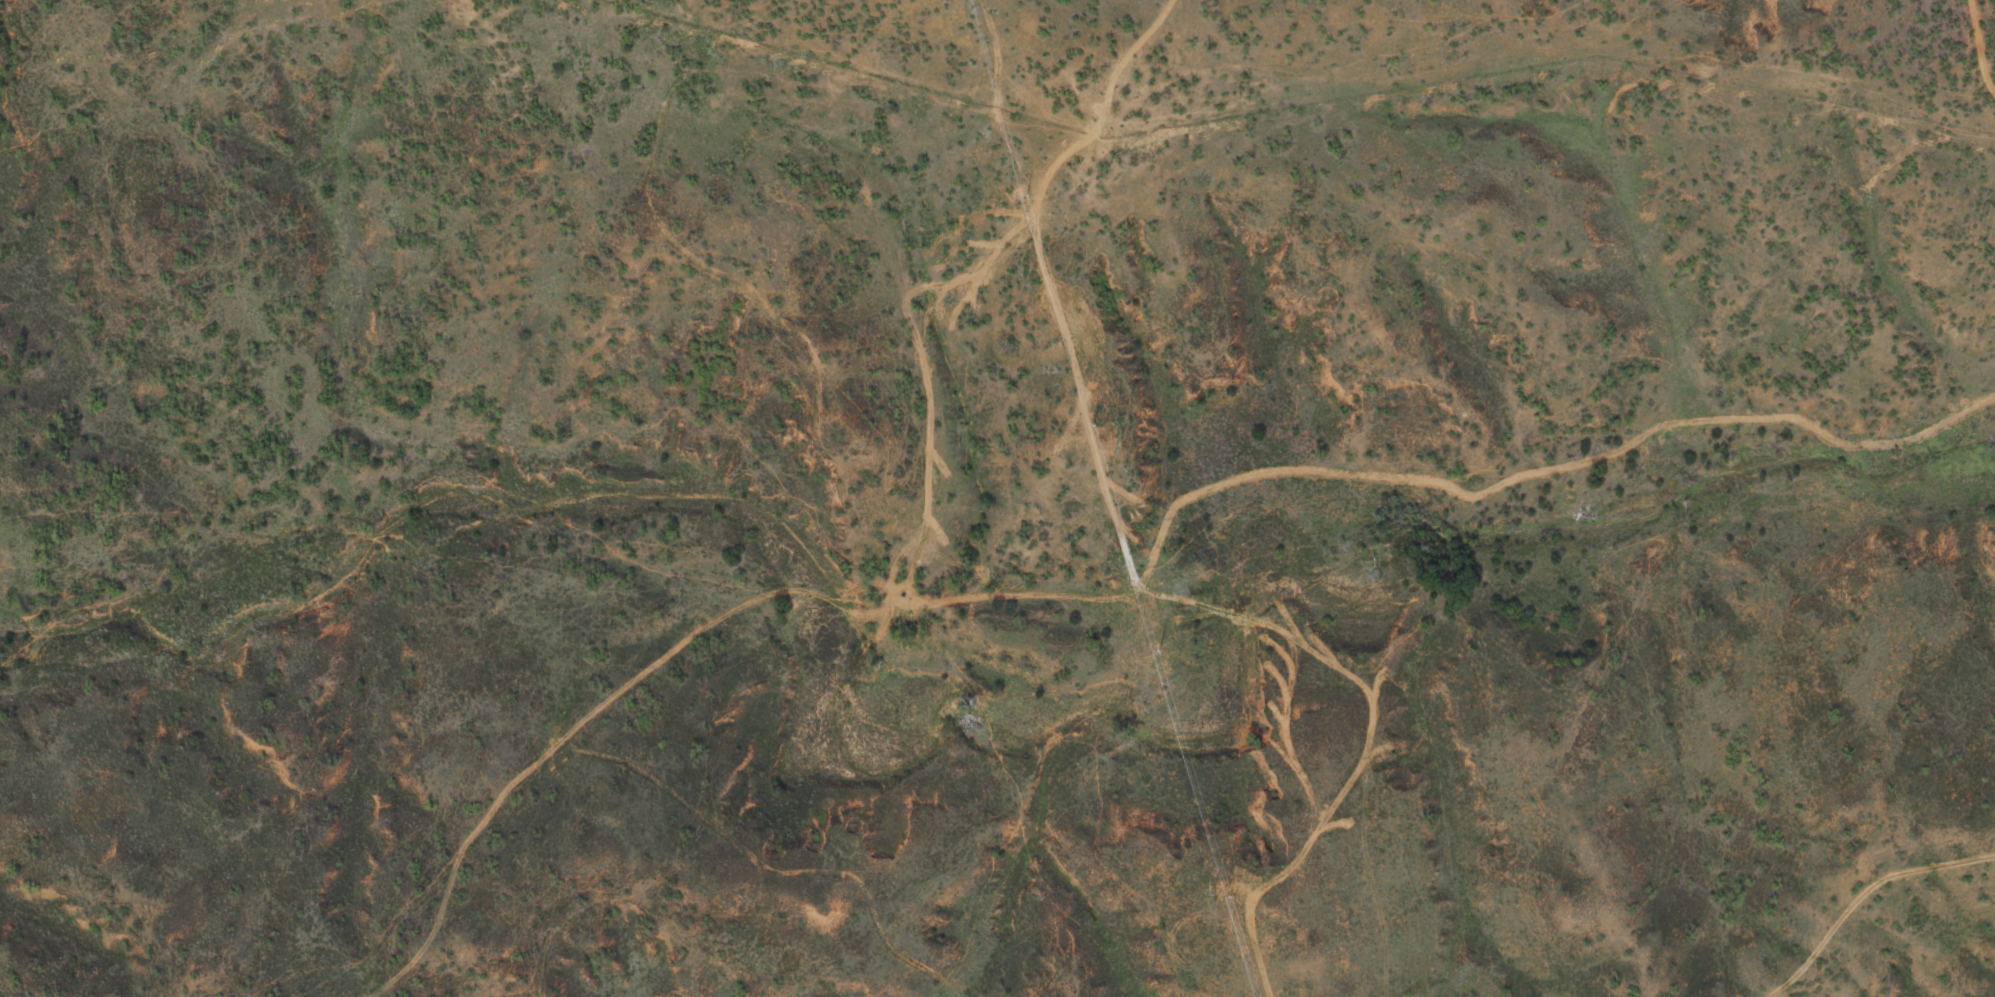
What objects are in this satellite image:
road: (1980, 46)

